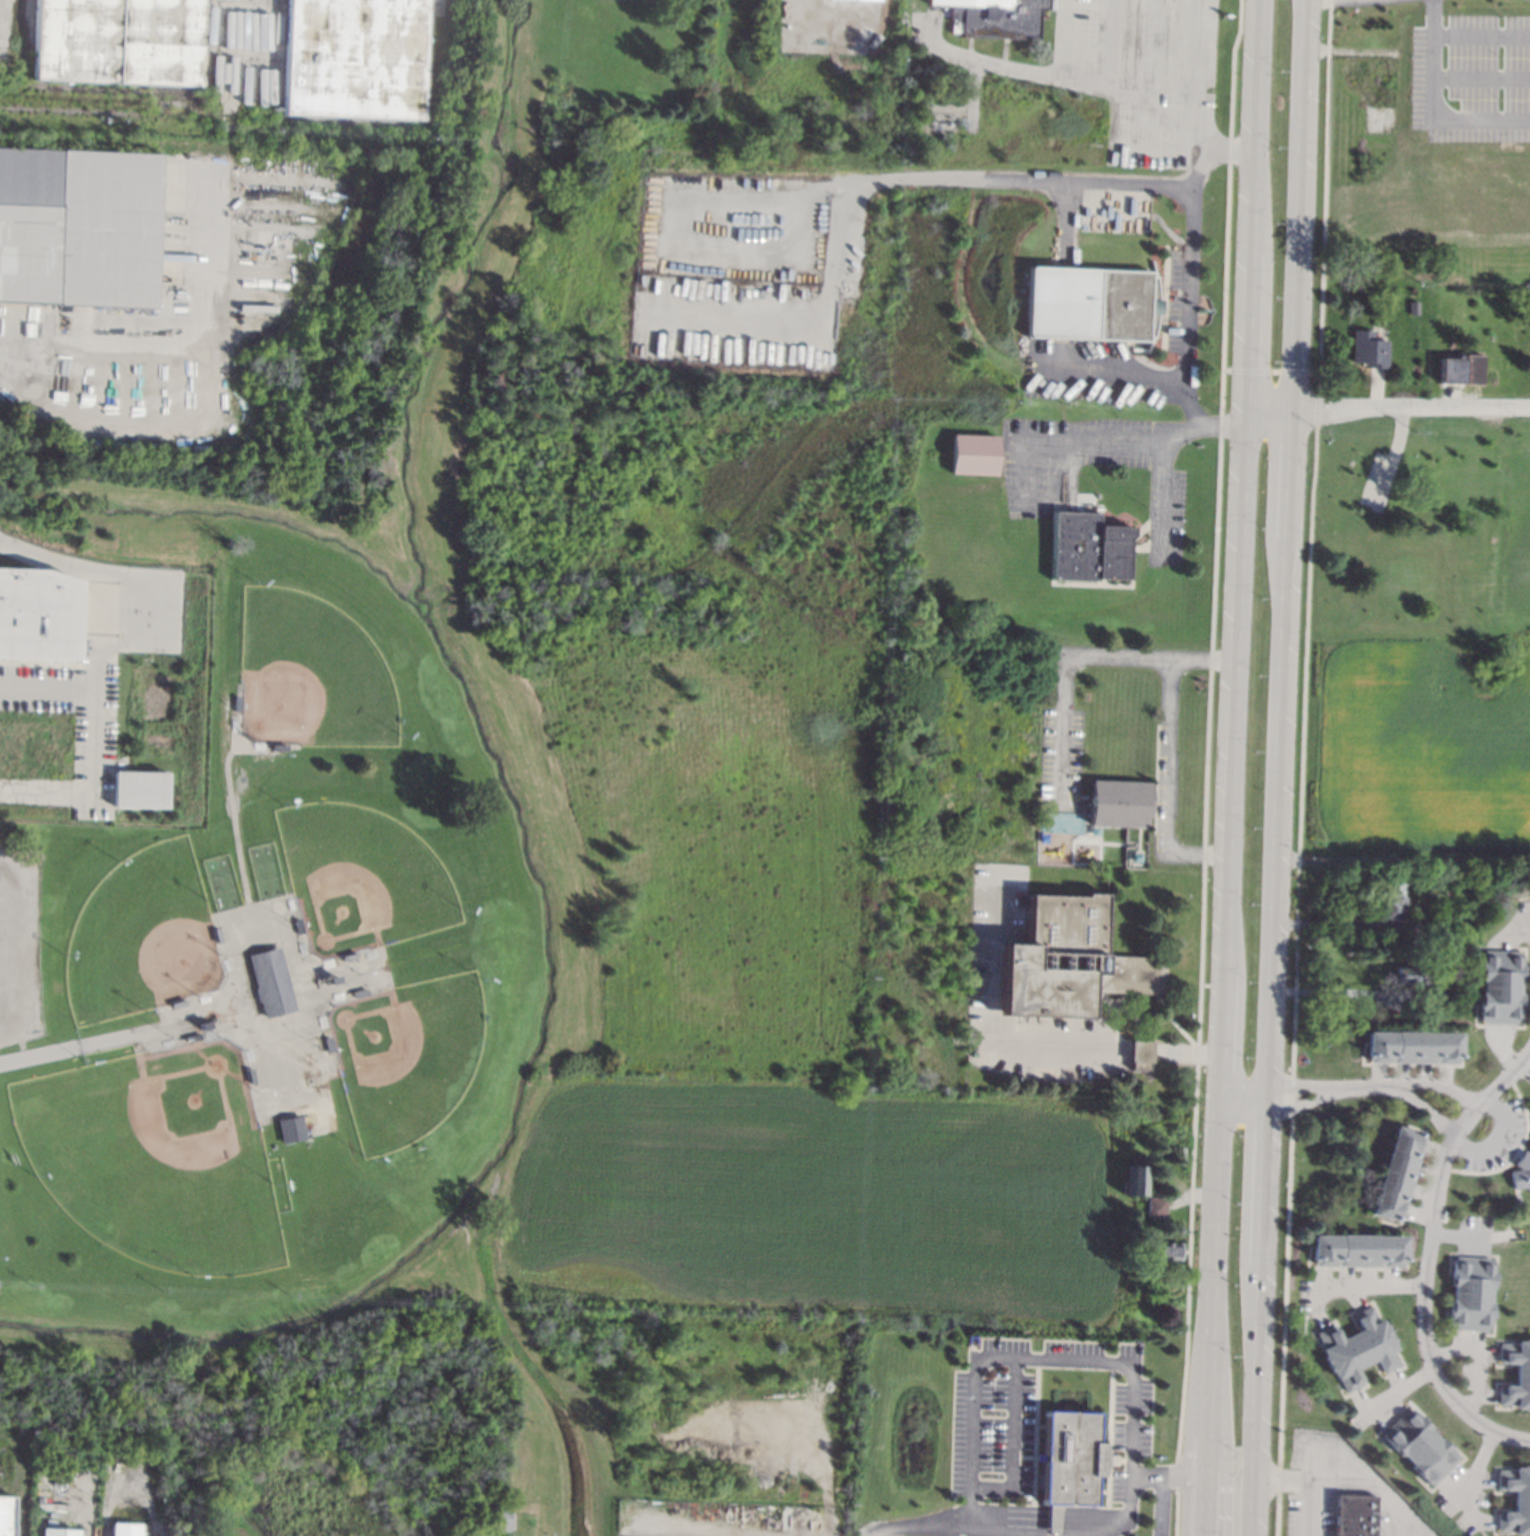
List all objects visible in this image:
building: (996, 17)
road: (1481, 35)
building: (118, 41)
building: (353, 58)
road: (1432, 59)
railway: (1, 61)
road: (1192, 68)
road: (1481, 78)
parking lot: (1471, 79)
road: (1110, 86)
road: (1480, 119)
road: (1019, 180)
road: (1299, 205)
building: (77, 227)
road: (1189, 267)
building: (1090, 303)
building: (1412, 307)
building: (1367, 349)
road: (192, 361)
building: (1459, 368)
road: (1410, 406)
road: (1268, 418)
road: (1130, 437)
building: (973, 453)
road: (1023, 470)
road: (1289, 475)
road: (1161, 496)
park: (1416, 529)
building: (1087, 547)
building: (36, 614)
road: (139, 628)
road: (1236, 649)
park: (309, 674)
road: (49, 678)
road: (1062, 679)
road: (1162, 725)
crop: (1412, 744)
building: (138, 788)
road: (47, 793)
building: (1119, 802)
road: (1276, 816)
building: (1061, 822)
road: (1201, 854)
building: (1134, 857)
road: (1402, 861)
park: (358, 880)
building: (1390, 906)
building: (1447, 921)
park: (139, 936)
road: (8, 944)
parking lot: (19, 946)
building: (1066, 961)
building: (1405, 974)
building: (270, 982)
building: (1499, 985)
building: (1437, 993)
road: (1062, 1043)
building: (1411, 1046)
road: (1140, 1047)
road: (1187, 1049)
building: (1139, 1053)
park: (404, 1055)
road: (1441, 1087)
road: (1334, 1088)
road: (1243, 1092)
road: (1491, 1092)
road: (1427, 1109)
building: (289, 1129)
building: (1529, 1136)
road: (1495, 1141)
building: (1177, 1155)
park: (155, 1157)
building: (1520, 1171)
building: (1395, 1173)
road: (1263, 1178)
building: (1134, 1180)
crop: (816, 1202)
building: (1136, 1204)
building: (1156, 1205)
building: (1357, 1249)
building: (1165, 1250)
road: (1369, 1286)
building: (1471, 1292)
road: (1424, 1311)
building: (1358, 1348)
road: (1047, 1357)
road: (1208, 1367)
building: (1516, 1373)
road: (1195, 1386)
road: (1401, 1390)
road: (1254, 1400)
parking lot: (991, 1418)
road: (1011, 1443)
building: (1420, 1445)
road: (1206, 1456)
building: (1068, 1458)
road: (832, 1461)
road: (1146, 1474)
road: (1174, 1475)
road: (1195, 1476)
road: (1284, 1480)
road: (1352, 1482)
parking lot: (1309, 1483)
building: (1516, 1500)
road: (1160, 1505)
road: (1185, 1506)
road: (1204, 1506)
building: (5, 1515)
building: (1356, 1515)
building: (500, 1519)
road: (1047, 1520)
road: (916, 1524)
building: (124, 1529)
parking lot: (983, 1530)
parking lot: (1114, 1531)
building: (58, 1532)

